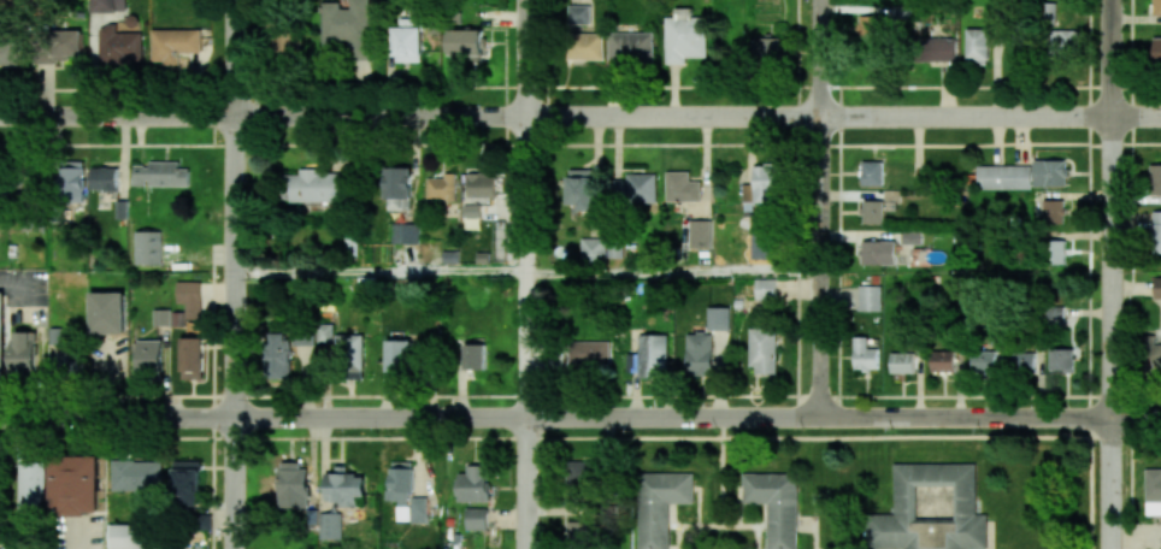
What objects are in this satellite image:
building: (107, 5)
building: (1156, 7)
building: (579, 14)
building: (131, 22)
building: (349, 26)
building: (873, 26)
building: (685, 36)
building: (284, 39)
building: (408, 40)
building: (1063, 41)
building: (466, 42)
building: (173, 45)
building: (59, 46)
building: (119, 46)
building: (589, 46)
building: (632, 46)
building: (978, 46)
building: (770, 47)
building: (936, 48)
building: (1157, 51)
building: (8, 52)
road: (579, 87)
road: (1136, 114)
road: (555, 116)
building: (872, 173)
building: (1050, 173)
building: (160, 175)
building: (1003, 177)
building: (104, 178)
building: (1155, 179)
building: (72, 184)
building: (481, 184)
building: (766, 184)
building: (314, 185)
building: (442, 187)
building: (682, 187)
building: (397, 188)
building: (580, 189)
building: (635, 189)
road: (1112, 207)
road: (823, 208)
building: (471, 211)
building: (872, 212)
building: (1054, 212)
building: (1156, 231)
building: (405, 232)
building: (700, 234)
building: (762, 237)
building: (910, 237)
building: (148, 247)
building: (614, 247)
building: (593, 248)
building: (878, 252)
building: (1055, 252)
road: (674, 271)
road: (381, 273)
road: (528, 273)
road: (234, 274)
building: (1157, 288)
building: (765, 293)
building: (190, 297)
building: (870, 297)
building: (107, 312)
building: (1055, 312)
building: (161, 317)
building: (718, 318)
building: (326, 333)
building: (2, 335)
building: (303, 337)
building: (765, 350)
building: (24, 352)
building: (1154, 352)
building: (589, 353)
building: (700, 354)
building: (149, 355)
building: (279, 355)
building: (865, 355)
building: (350, 356)
building: (475, 356)
building: (649, 356)
building: (191, 358)
building: (400, 358)
building: (1061, 359)
building: (943, 360)
building: (983, 361)
building: (902, 362)
building: (1022, 362)
road: (1136, 415)
road: (555, 417)
building: (583, 472)
building: (137, 474)
building: (188, 483)
road: (1112, 483)
building: (473, 484)
building: (77, 485)
building: (294, 486)
building: (344, 486)
building: (30, 488)
building: (0, 489)
building: (1153, 491)
building: (406, 494)
building: (660, 504)
building: (776, 506)
building: (930, 509)
building: (476, 518)
building: (330, 525)
building: (577, 531)
building: (126, 536)

